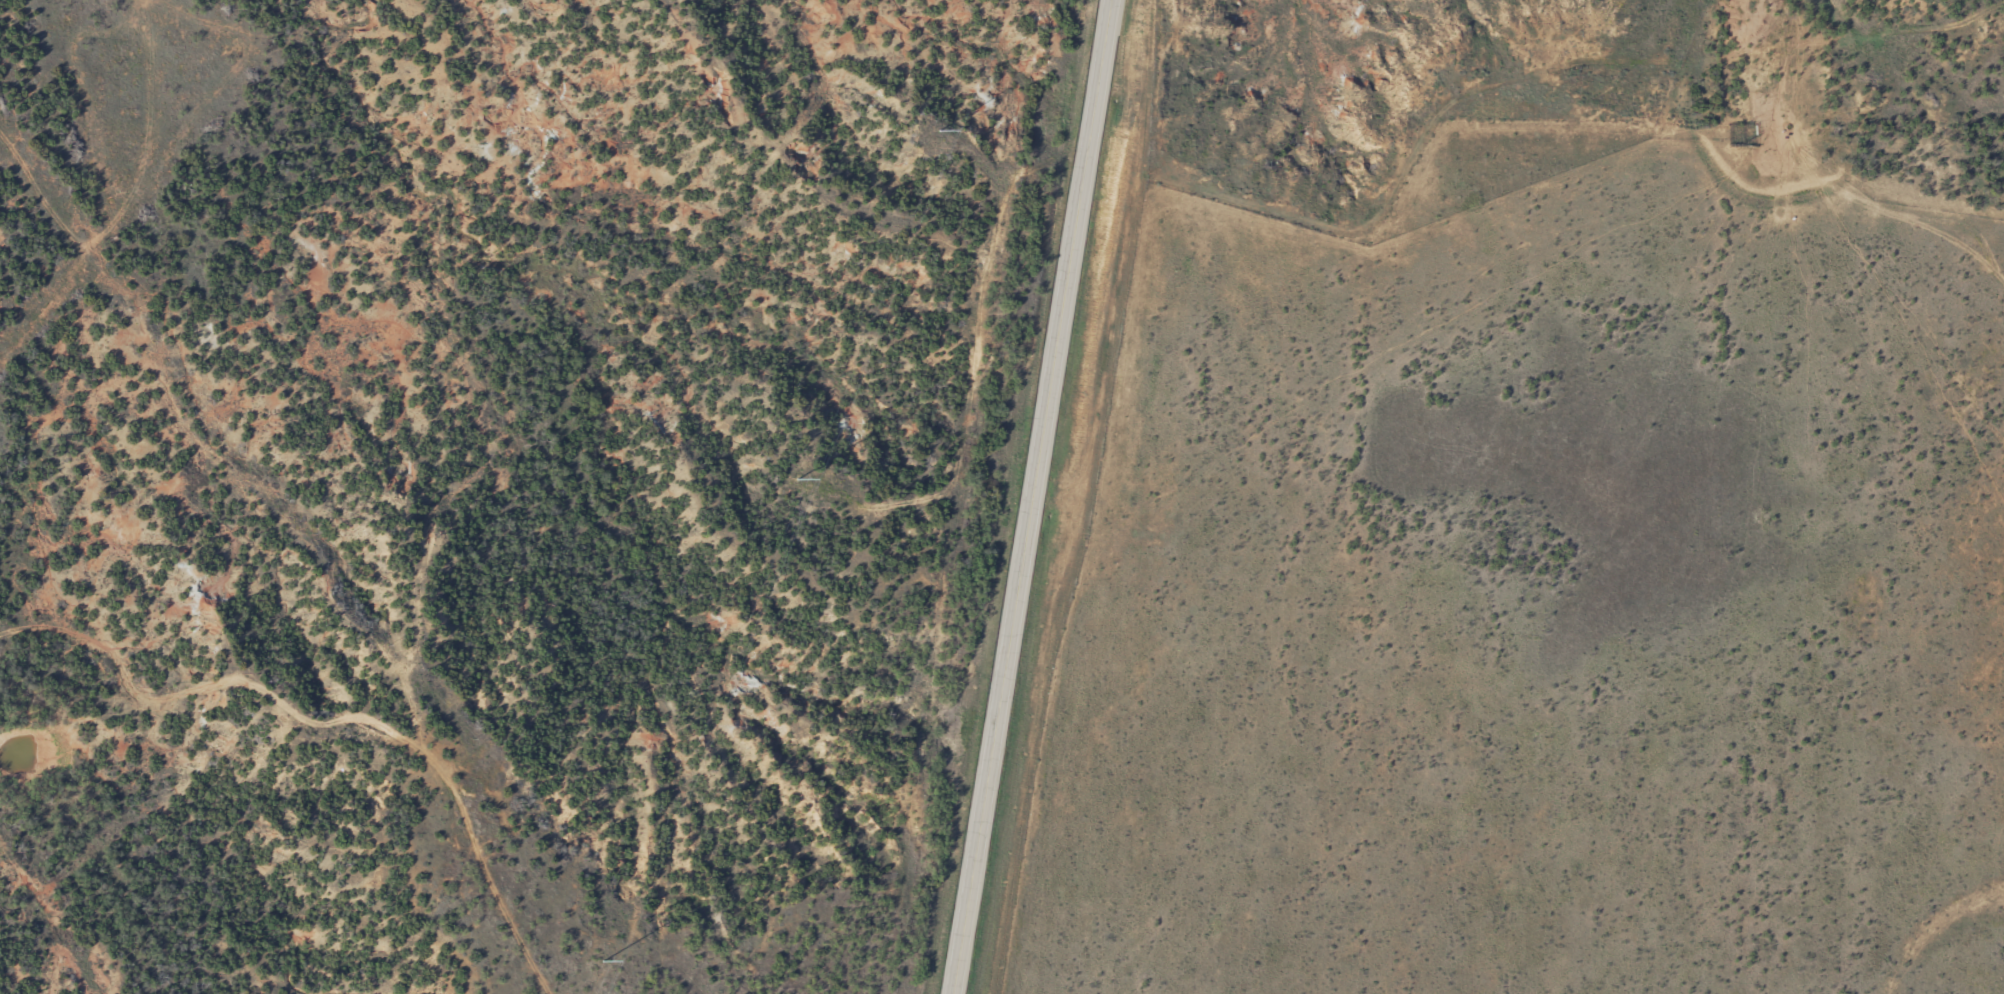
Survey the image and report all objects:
road: (1530, 107)
power tower: (936, 136)
road: (1123, 458)
power tower: (800, 474)
road: (1038, 497)
power tower: (602, 968)

